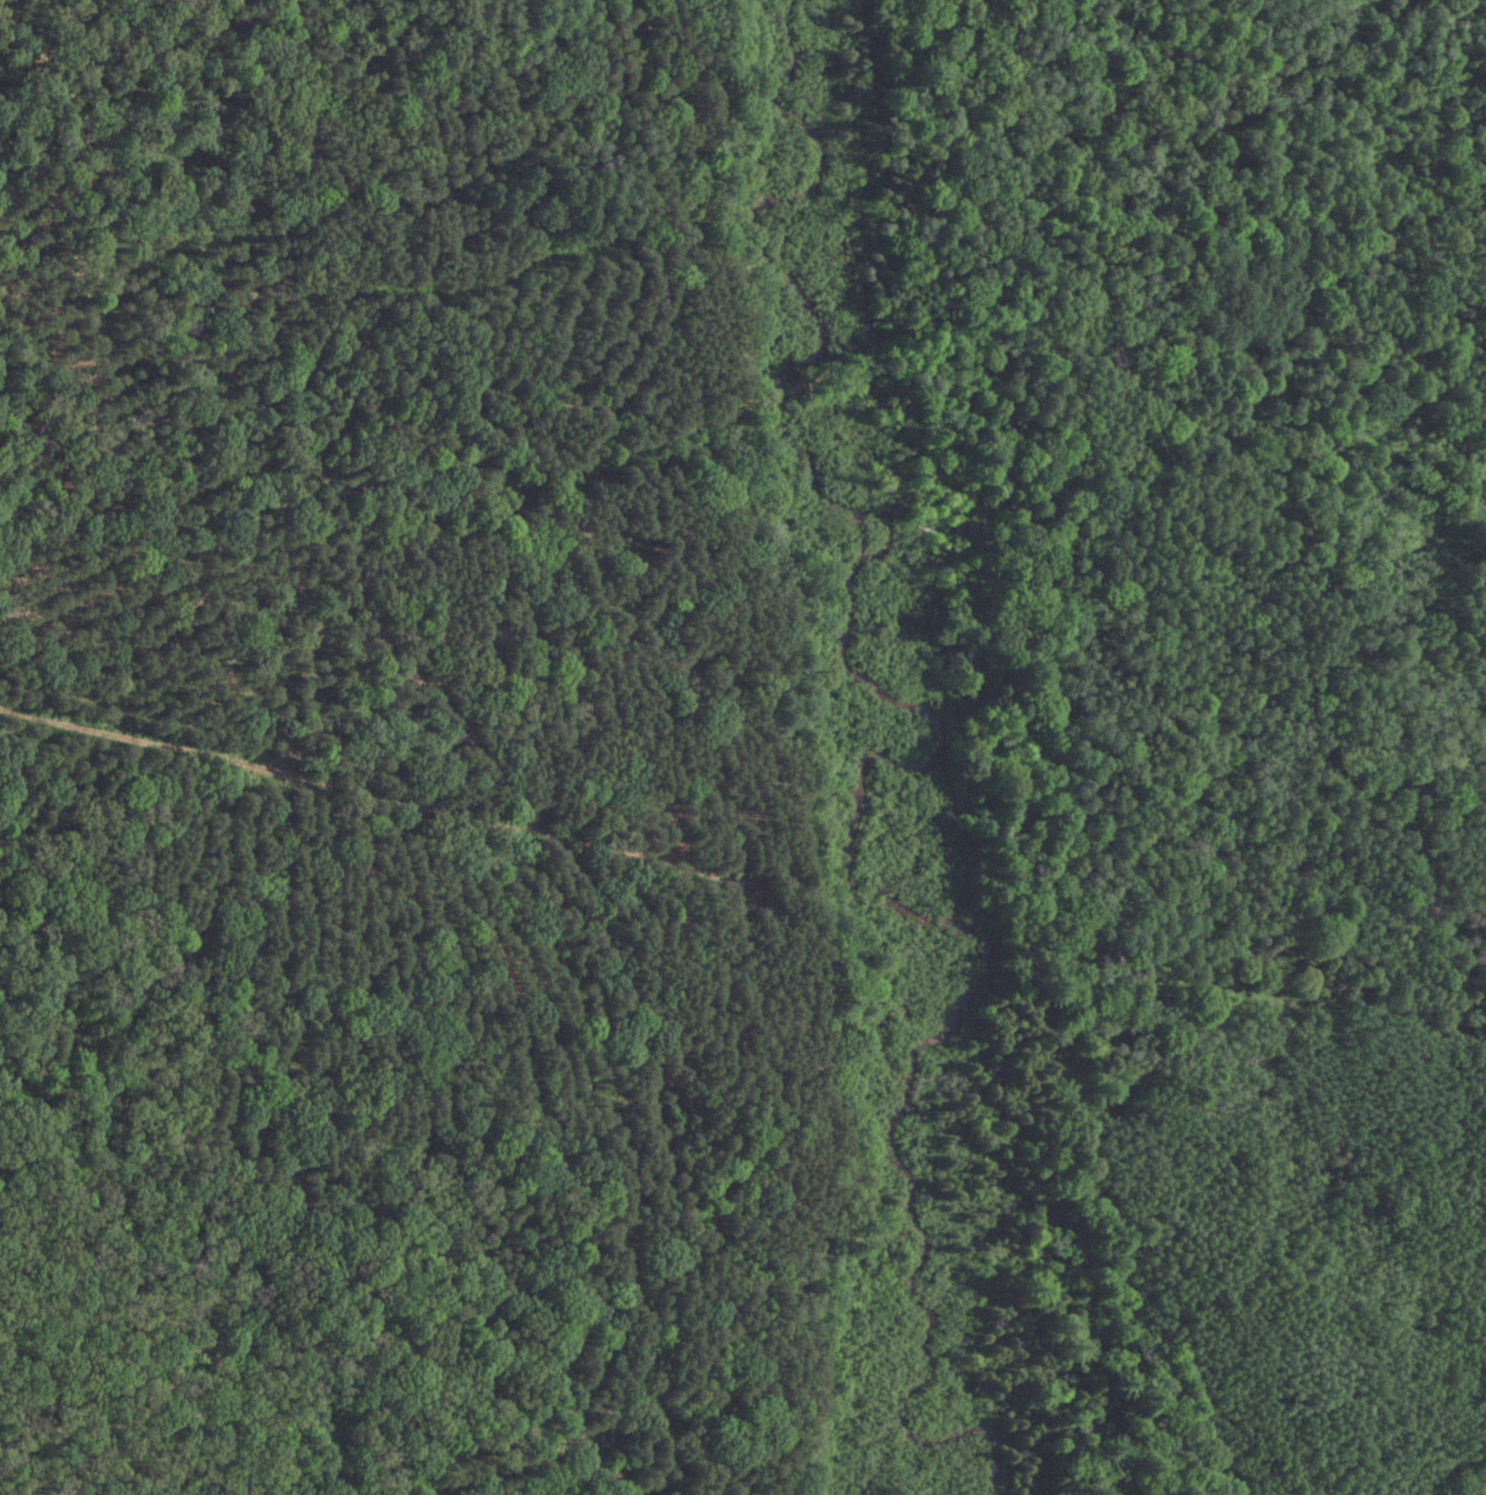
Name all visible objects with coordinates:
road: (715, 197)
road: (1137, 263)
road: (772, 389)
road: (385, 405)
road: (542, 472)
road: (427, 674)
road: (372, 794)

